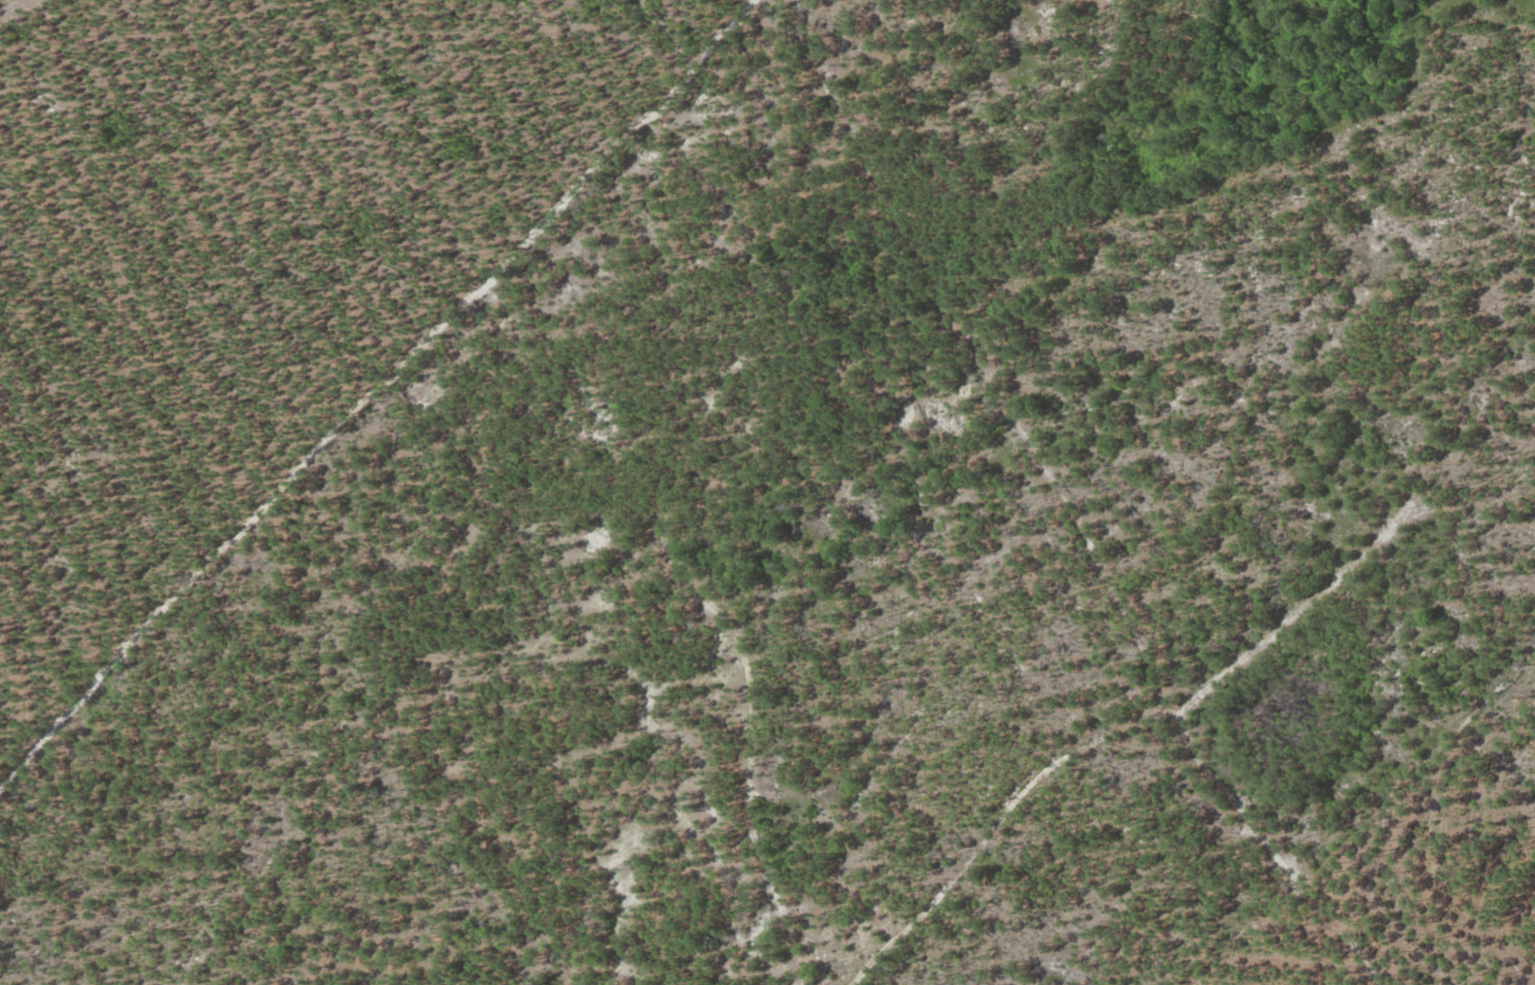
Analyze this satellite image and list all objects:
road: (979, 354)
road: (1222, 784)
road: (995, 825)
road: (1340, 921)

